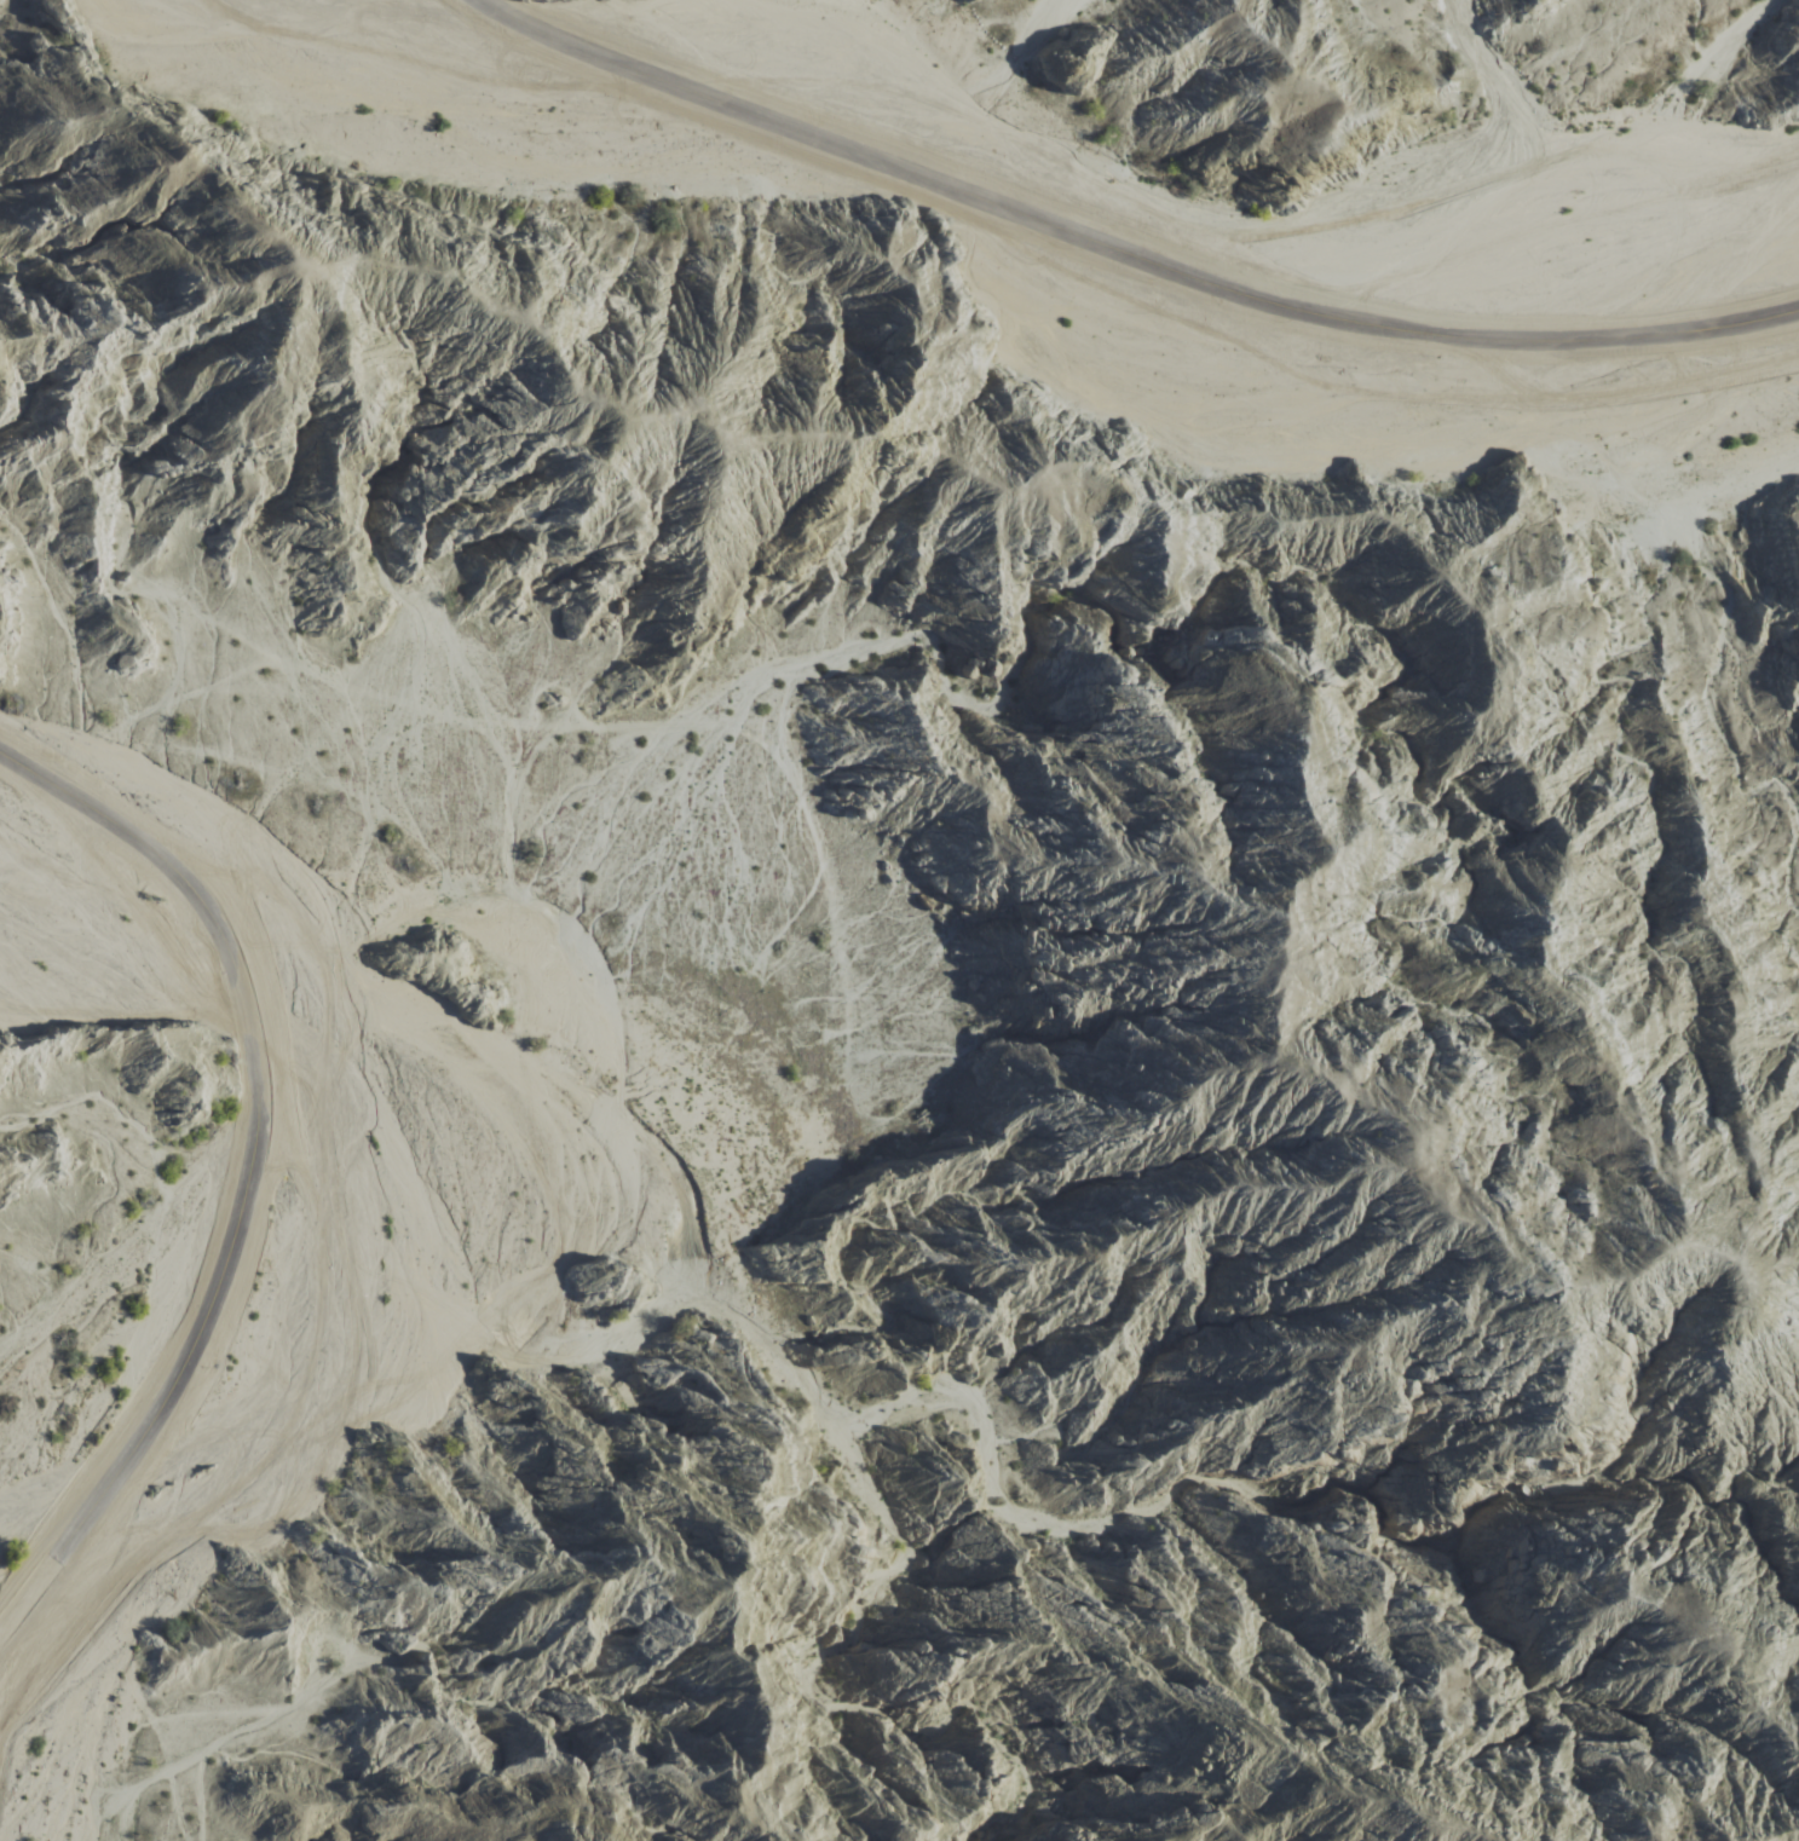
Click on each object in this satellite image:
road: (1123, 248)
road: (252, 1166)

